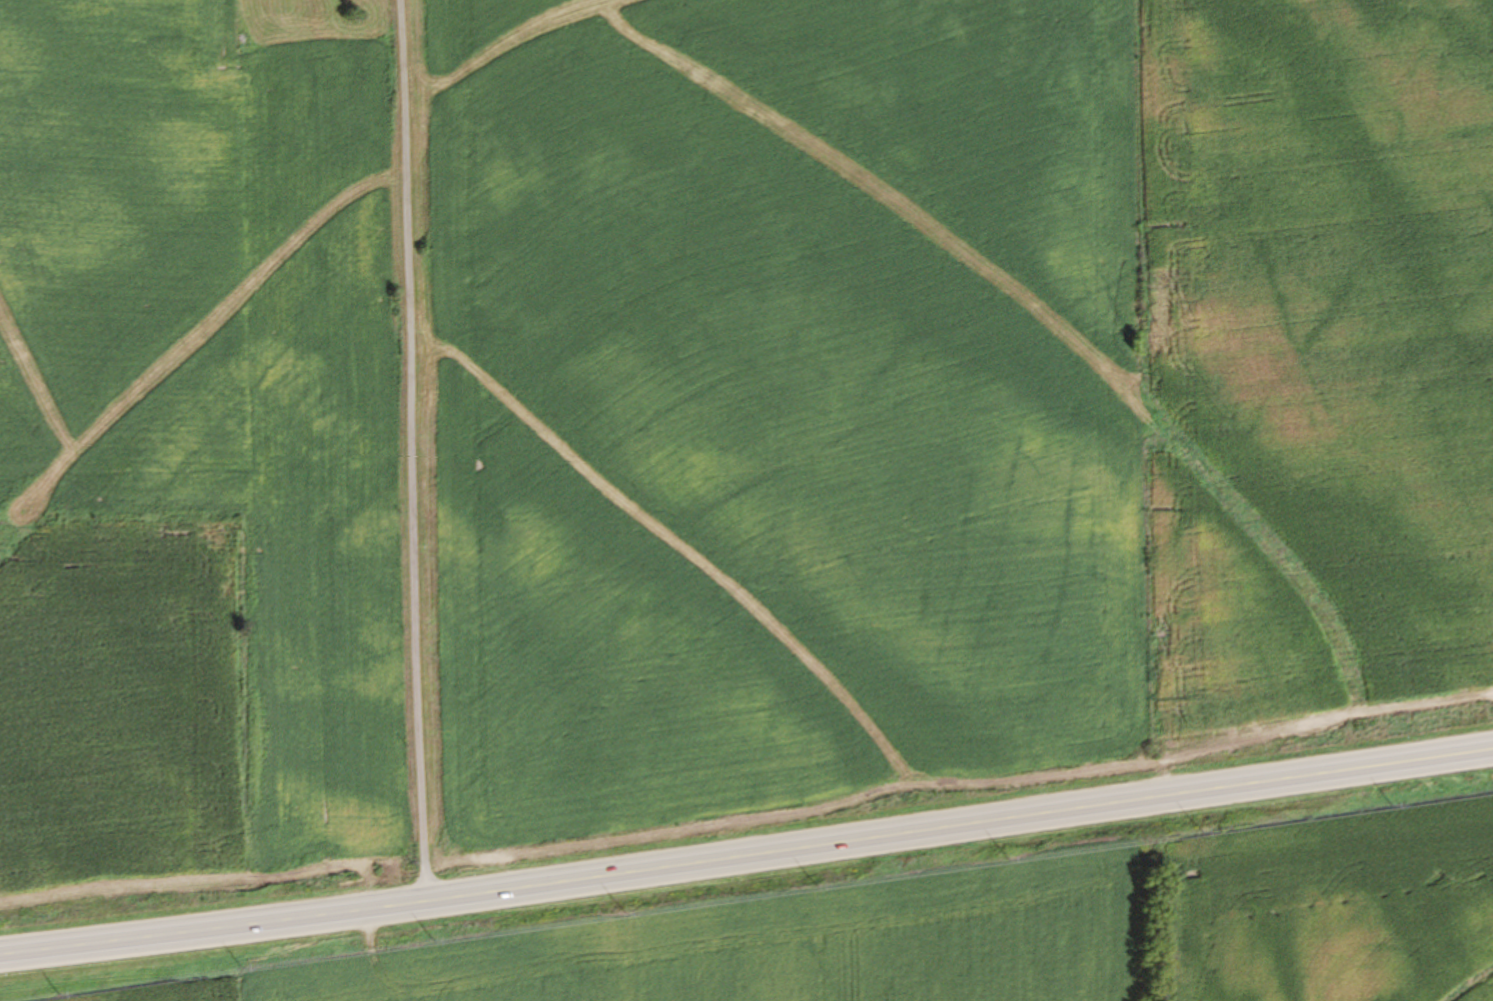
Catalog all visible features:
road: (412, 451)
road: (746, 856)

